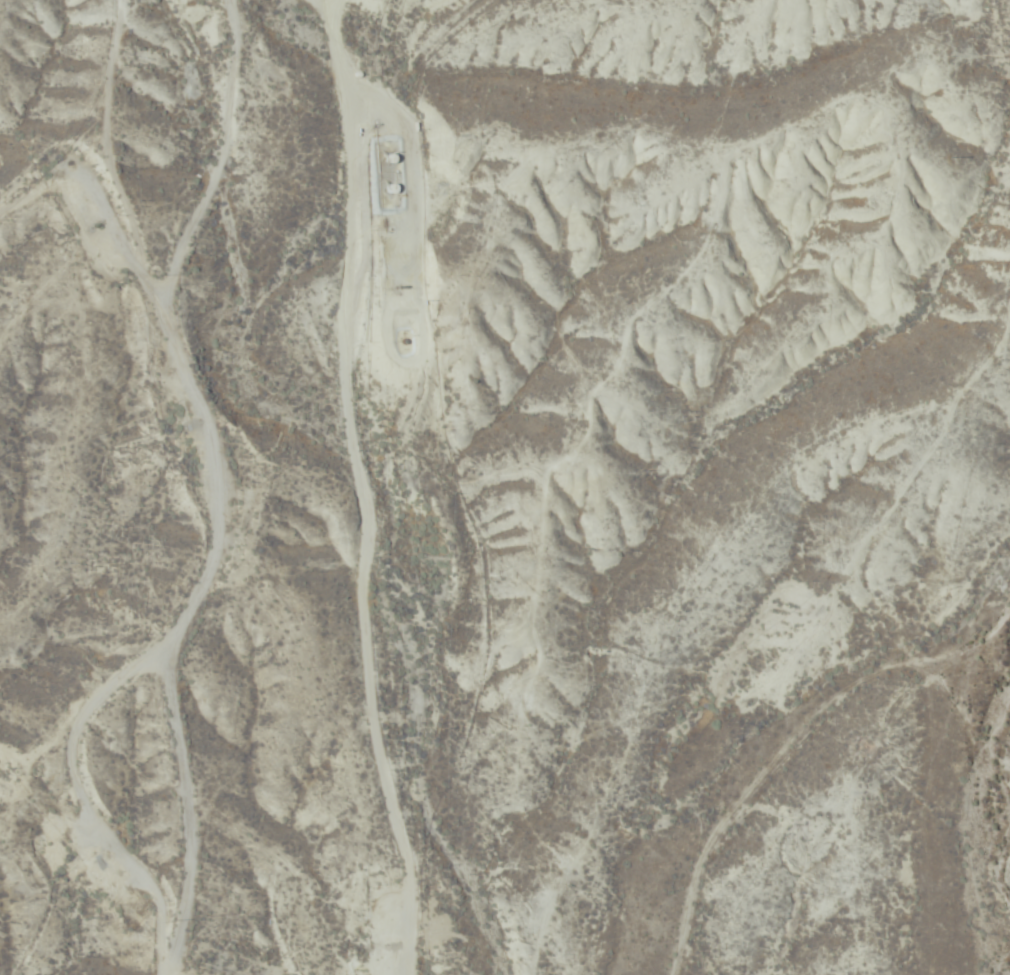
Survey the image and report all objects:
road: (172, 467)
road: (375, 487)

